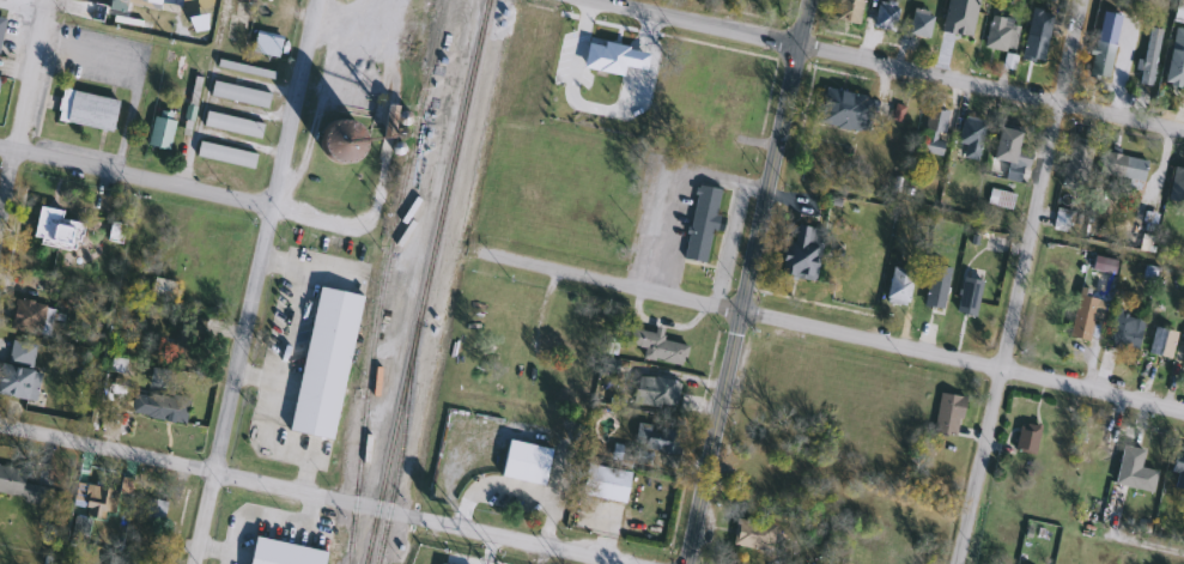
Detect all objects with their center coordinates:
building: (247, 1)
road: (23, 5)
building: (846, 11)
building: (885, 16)
road: (688, 23)
road: (799, 23)
building: (919, 24)
building: (1, 25)
building: (1001, 34)
building: (266, 43)
building: (1033, 48)
road: (1069, 53)
building: (606, 56)
building: (1149, 56)
building: (1100, 59)
building: (1176, 59)
road: (988, 90)
building: (353, 93)
building: (239, 95)
road: (23, 109)
road: (596, 109)
building: (728, 109)
building: (86, 110)
building: (848, 111)
building: (232, 125)
building: (931, 132)
building: (159, 133)
building: (970, 138)
building: (225, 156)
building: (1008, 156)
building: (1075, 166)
building: (1122, 166)
building: (1178, 186)
road: (182, 187)
building: (702, 223)
building: (53, 228)
building: (115, 232)
road: (1030, 237)
building: (801, 253)
road: (280, 262)
railway: (382, 279)
road: (254, 281)
railway: (426, 281)
building: (898, 286)
building: (935, 286)
building: (162, 289)
building: (969, 296)
road: (735, 304)
building: (28, 317)
building: (1083, 319)
road: (289, 325)
road: (827, 330)
building: (1124, 330)
building: (1161, 342)
building: (560, 344)
building: (656, 346)
building: (1183, 359)
building: (323, 363)
building: (18, 371)
road: (256, 376)
building: (656, 392)
building: (158, 405)
road: (271, 413)
building: (947, 414)
building: (650, 438)
building: (1026, 438)
railway: (400, 449)
road: (304, 456)
building: (524, 462)
road: (978, 466)
building: (1178, 468)
road: (188, 469)
building: (1131, 471)
building: (605, 484)
building: (20, 486)
road: (512, 497)
building: (154, 508)
building: (93, 509)
road: (290, 527)
building: (753, 535)
road: (498, 536)
road: (236, 541)
road: (217, 546)
building: (283, 553)
building: (126, 559)

